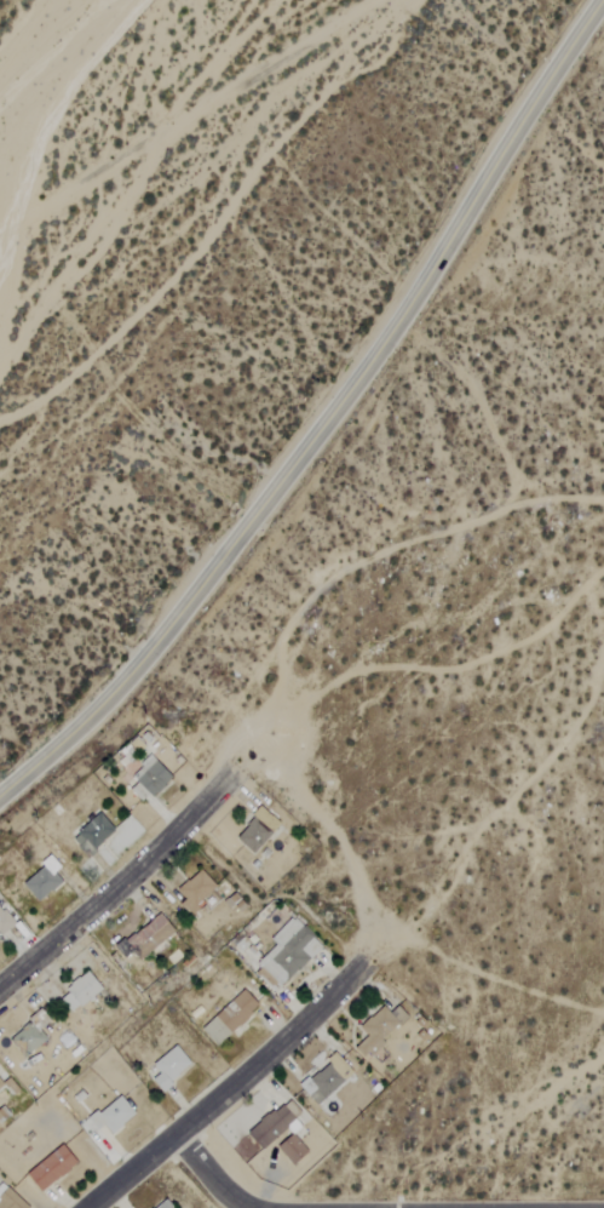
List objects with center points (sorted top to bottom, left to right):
road: (328, 418)
building: (149, 779)
building: (259, 830)
building: (94, 834)
building: (45, 878)
road: (120, 883)
building: (196, 891)
building: (4, 920)
building: (148, 937)
building: (289, 952)
building: (81, 992)
building: (232, 1017)
building: (376, 1027)
building: (31, 1034)
building: (172, 1066)
building: (322, 1078)
road: (229, 1088)
building: (0, 1092)
building: (114, 1115)
building: (263, 1133)
building: (289, 1149)
building: (53, 1167)
road: (208, 1173)
building: (10, 1198)
building: (160, 1204)

